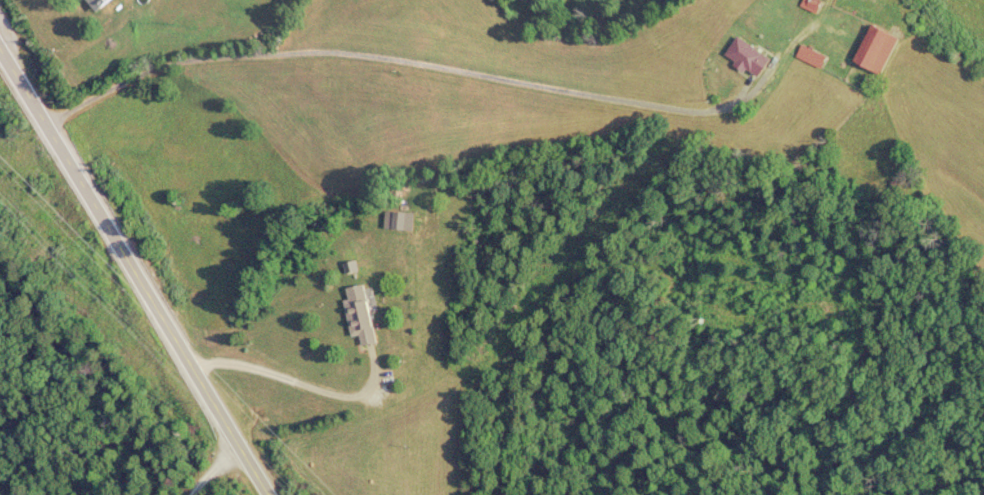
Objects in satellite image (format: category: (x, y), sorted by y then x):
building: (97, 3)
building: (810, 4)
building: (874, 50)
building: (747, 57)
road: (396, 59)
road: (133, 275)
building: (359, 314)
road: (216, 468)

